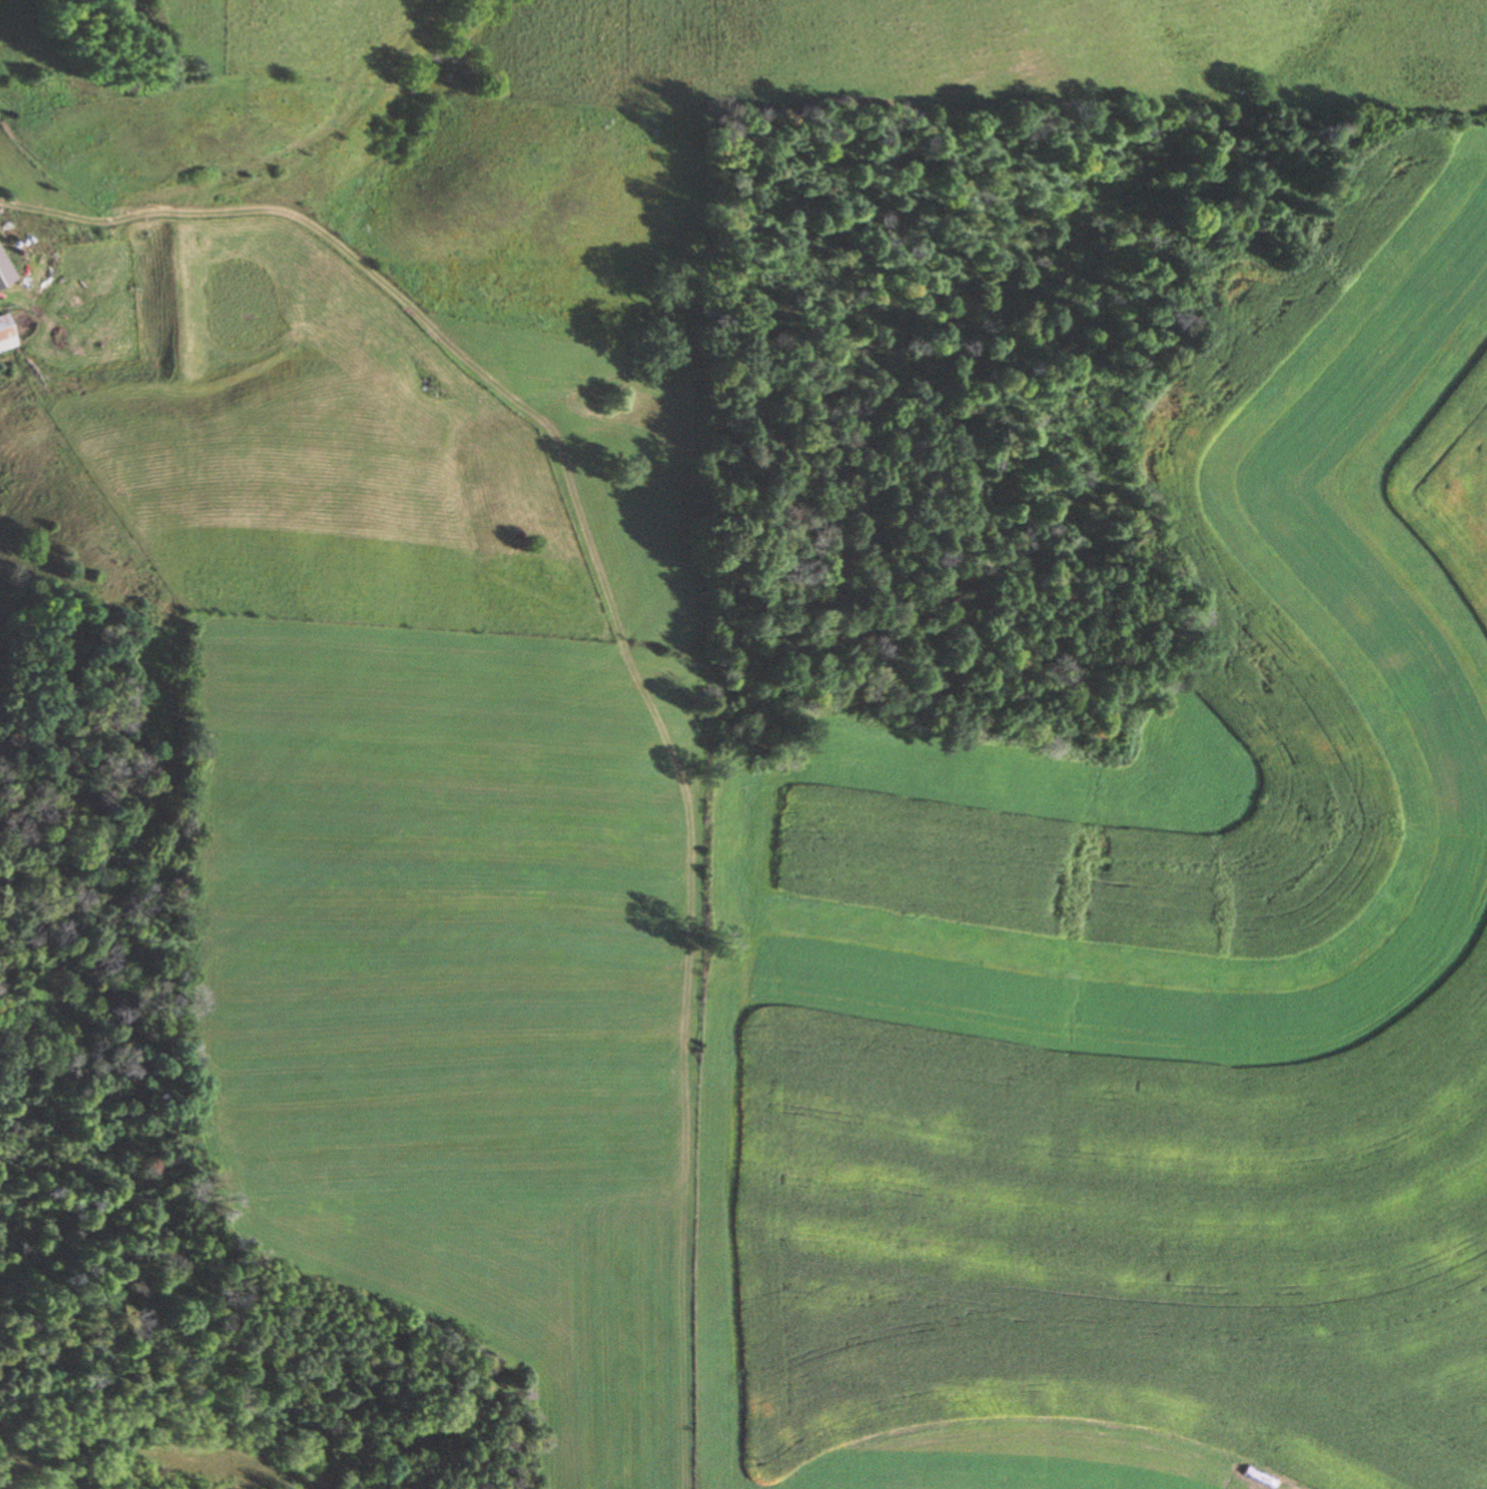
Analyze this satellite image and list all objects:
building: (3, 275)
building: (4, 337)
quarry: (277, 1482)

